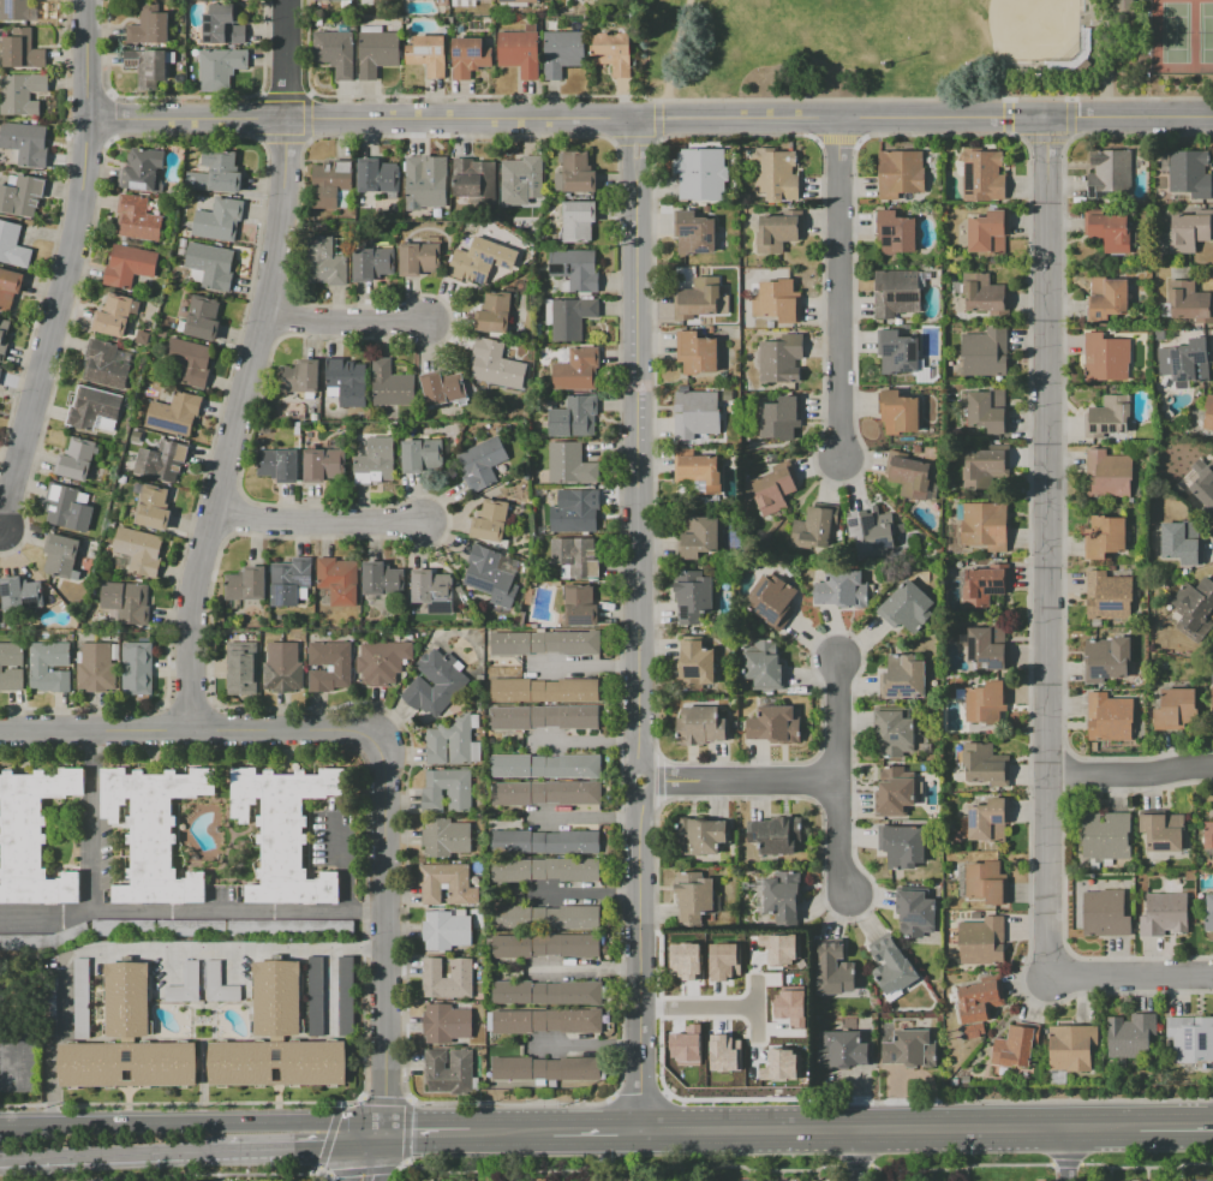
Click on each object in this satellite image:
building: (333, 0)
building: (581, 0)
building: (581, 0)
building: (518, 1)
park: (900, 1)
building: (456, 2)
building: (18, 10)
building: (1124, 14)
building: (222, 24)
building: (149, 25)
park: (1002, 28)
park: (1181, 36)
park: (927, 48)
building: (22, 49)
building: (377, 50)
building: (519, 50)
building: (335, 52)
building: (562, 52)
building: (613, 52)
building: (428, 54)
building: (468, 56)
road: (1104, 58)
road: (90, 59)
road: (671, 60)
building: (147, 64)
building: (220, 67)
building: (22, 93)
road: (1005, 97)
road: (652, 121)
building: (25, 143)
building: (142, 169)
building: (1110, 171)
building: (216, 172)
building: (578, 173)
building: (700, 173)
building: (900, 173)
building: (1189, 173)
building: (775, 174)
building: (982, 174)
building: (377, 175)
building: (521, 177)
building: (474, 179)
building: (333, 185)
building: (424, 185)
building: (23, 197)
building: (137, 217)
building: (219, 220)
building: (578, 221)
building: (694, 232)
building: (988, 232)
building: (1110, 232)
building: (776, 233)
building: (895, 233)
building: (1188, 233)
building: (12, 245)
building: (419, 260)
building: (480, 260)
building: (325, 263)
building: (372, 263)
building: (211, 264)
building: (130, 266)
building: (575, 269)
building: (10, 287)
road: (838, 291)
building: (896, 292)
building: (981, 293)
building: (1107, 298)
building: (700, 299)
building: (779, 300)
building: (1188, 300)
building: (494, 312)
building: (113, 316)
building: (203, 317)
building: (572, 317)
road: (341, 318)
road: (52, 323)
building: (4, 336)
building: (695, 353)
building: (897, 353)
building: (985, 353)
building: (779, 357)
building: (1105, 357)
building: (1184, 362)
building: (186, 363)
road: (249, 363)
building: (496, 364)
building: (104, 365)
building: (0, 369)
building: (576, 370)
building: (300, 377)
building: (346, 381)
building: (390, 384)
building: (442, 388)
building: (94, 410)
building: (988, 410)
building: (174, 413)
building: (697, 413)
building: (898, 413)
building: (1208, 413)
building: (573, 417)
building: (781, 418)
building: (1109, 418)
building: (422, 455)
building: (76, 459)
building: (163, 460)
building: (375, 461)
building: (482, 463)
building: (569, 464)
building: (279, 465)
building: (323, 465)
building: (699, 469)
building: (986, 469)
building: (1107, 475)
building: (915, 478)
building: (773, 489)
building: (1202, 491)
building: (153, 508)
building: (66, 509)
building: (576, 513)
building: (490, 521)
road: (319, 523)
building: (985, 525)
road: (0, 527)
building: (812, 529)
building: (871, 533)
building: (698, 536)
building: (1105, 536)
building: (1178, 544)
road: (1050, 548)
building: (139, 550)
building: (60, 555)
building: (575, 556)
building: (491, 575)
building: (381, 579)
building: (339, 580)
building: (289, 581)
building: (984, 583)
building: (246, 584)
building: (431, 586)
building: (841, 589)
building: (20, 594)
building: (1107, 596)
building: (693, 600)
building: (126, 601)
building: (771, 601)
building: (579, 604)
building: (907, 607)
building: (1194, 608)
road: (643, 625)
building: (545, 643)
building: (991, 646)
building: (1106, 658)
building: (382, 661)
road: (585, 663)
building: (764, 664)
building: (48, 666)
building: (697, 666)
building: (1, 667)
building: (329, 667)
building: (137, 668)
building: (283, 668)
building: (97, 669)
building: (241, 669)
building: (902, 676)
building: (435, 682)
building: (544, 690)
building: (987, 703)
building: (1212, 706)
building: (1175, 708)
building: (545, 716)
building: (1109, 717)
road: (295, 721)
building: (775, 724)
building: (700, 726)
road: (97, 728)
building: (894, 733)
road: (586, 739)
building: (452, 742)
building: (545, 765)
building: (986, 765)
road: (1133, 776)
road: (838, 780)
road: (741, 785)
building: (545, 793)
building: (894, 793)
building: (459, 800)
road: (587, 816)
building: (988, 819)
road: (92, 821)
building: (153, 831)
building: (283, 831)
building: (1161, 831)
building: (776, 834)
building: (1105, 834)
building: (32, 835)
building: (703, 835)
building: (1208, 835)
building: (444, 837)
building: (548, 841)
building: (901, 846)
building: (544, 869)
building: (986, 882)
building: (430, 884)
road: (587, 893)
building: (693, 895)
building: (782, 896)
road: (192, 913)
building: (914, 913)
building: (1209, 913)
building: (1105, 914)
building: (1164, 914)
building: (510, 915)
building: (574, 917)
building: (123, 927)
building: (261, 927)
building: (322, 927)
building: (190, 929)
building: (446, 930)
road: (387, 937)
building: (43, 938)
building: (981, 941)
building: (545, 946)
road: (139, 948)
building: (781, 948)
building: (685, 960)
building: (724, 960)
building: (749, 964)
road: (586, 966)
building: (891, 967)
building: (833, 970)
building: (706, 977)
building: (447, 979)
road: (1133, 982)
building: (219, 984)
building: (186, 985)
building: (345, 992)
building: (546, 992)
building: (316, 994)
building: (82, 997)
building: (276, 997)
building: (979, 998)
building: (126, 1000)
road: (706, 1007)
building: (789, 1007)
road: (753, 1009)
building: (544, 1020)
building: (446, 1022)
building: (973, 1030)
building: (767, 1034)
building: (1130, 1034)
building: (1190, 1038)
road: (586, 1044)
building: (686, 1045)
building: (1015, 1046)
building: (710, 1048)
building: (1071, 1048)
building: (909, 1049)
building: (843, 1050)
building: (277, 1062)
building: (126, 1063)
building: (779, 1064)
building: (545, 1068)
building: (449, 1070)
road: (193, 1121)
road: (1176, 1127)
road: (889, 1128)
road: (594, 1129)
road: (510, 1131)
road: (428, 1132)
road: (307, 1153)
road: (856, 1155)
road: (1069, 1155)
road: (372, 1156)
road: (113, 1158)
building: (644, 1180)

